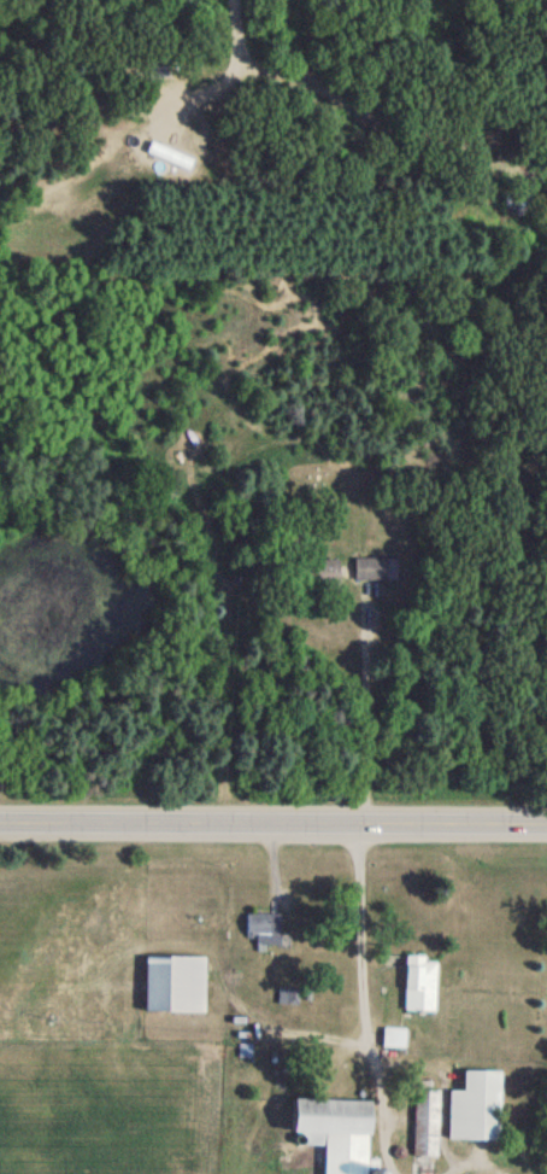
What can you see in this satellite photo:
building: (372, 570)
building: (323, 573)
road: (367, 709)
road: (272, 827)
building: (266, 930)
building: (423, 983)
building: (177, 985)
road: (363, 1003)
road: (294, 1030)
building: (396, 1038)
building: (478, 1108)
building: (429, 1125)
building: (337, 1133)
road: (474, 1167)

